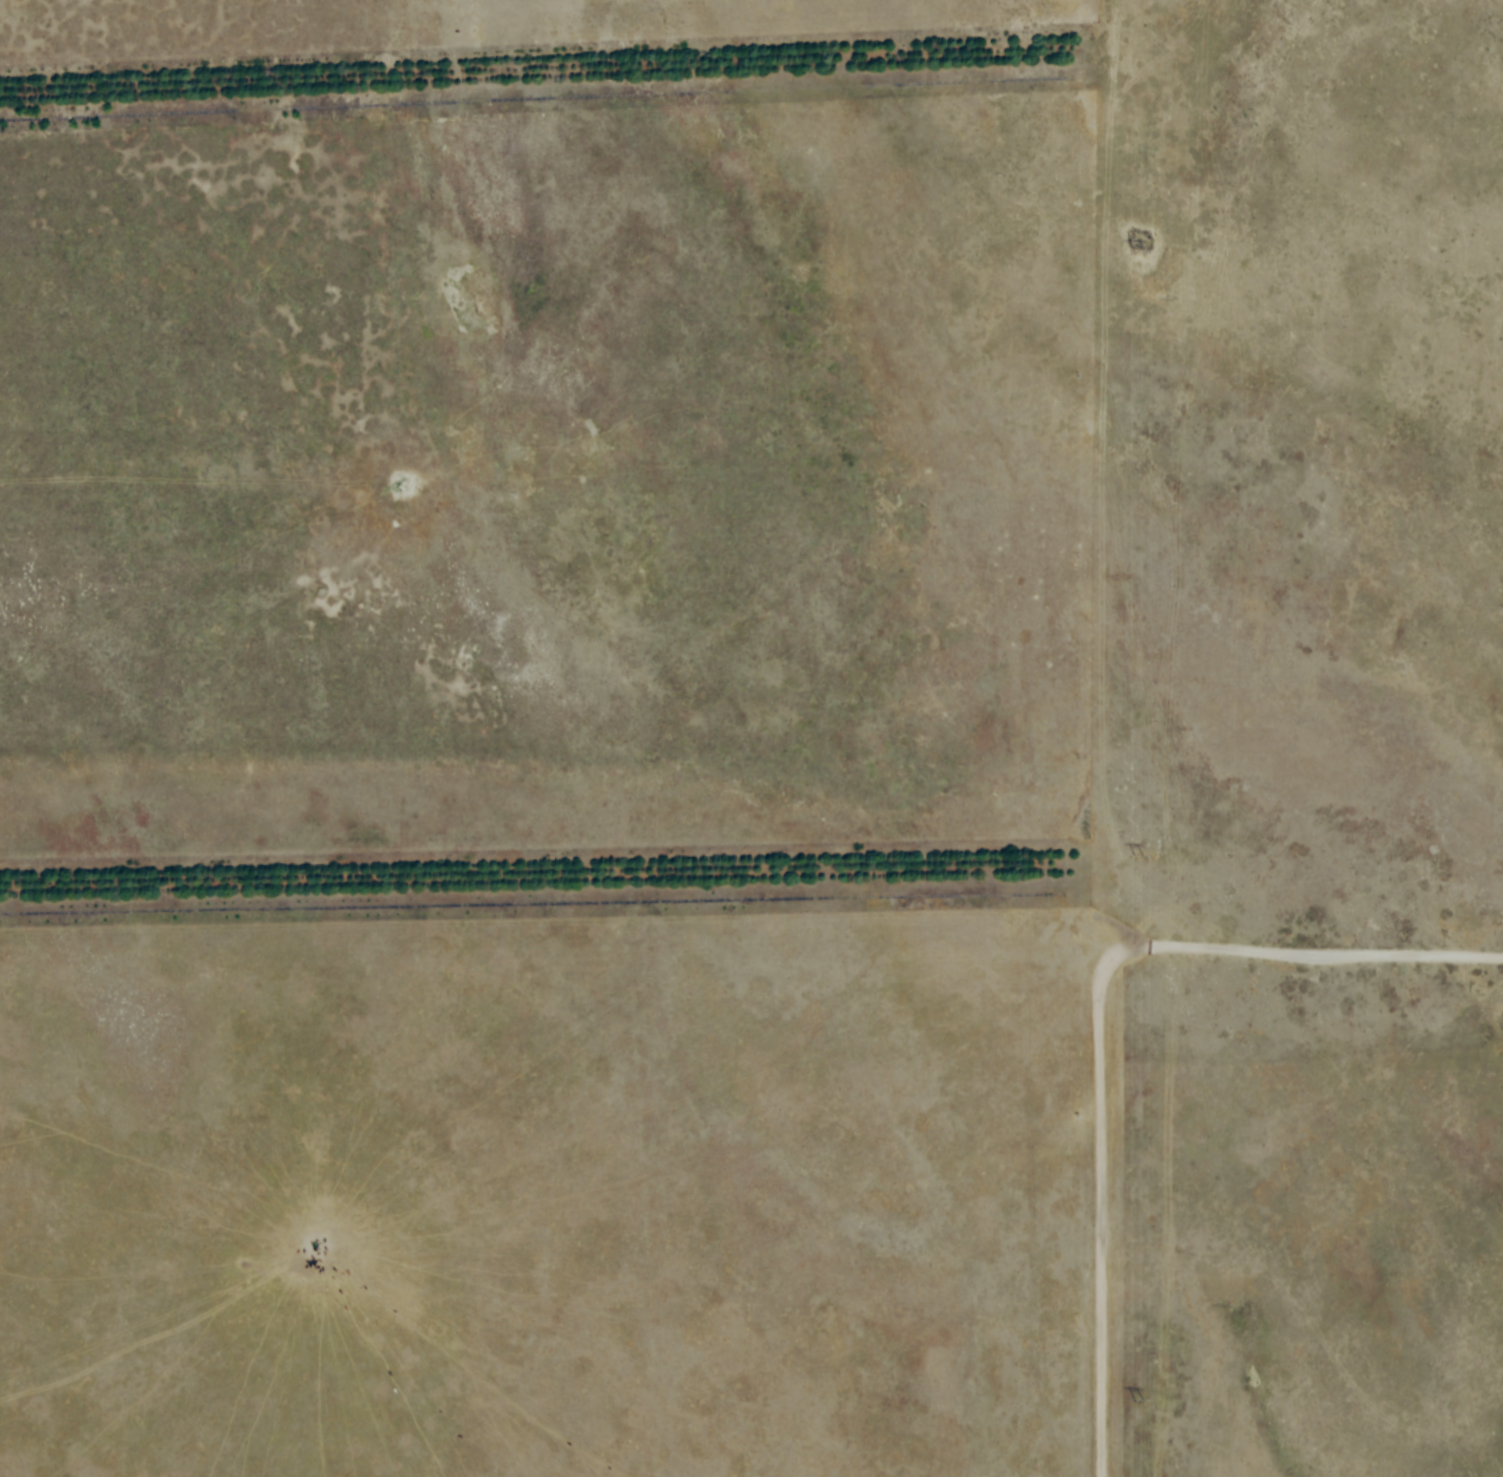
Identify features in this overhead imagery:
power tower: (1136, 254)
power tower: (1136, 856)
power tower: (1134, 1401)

